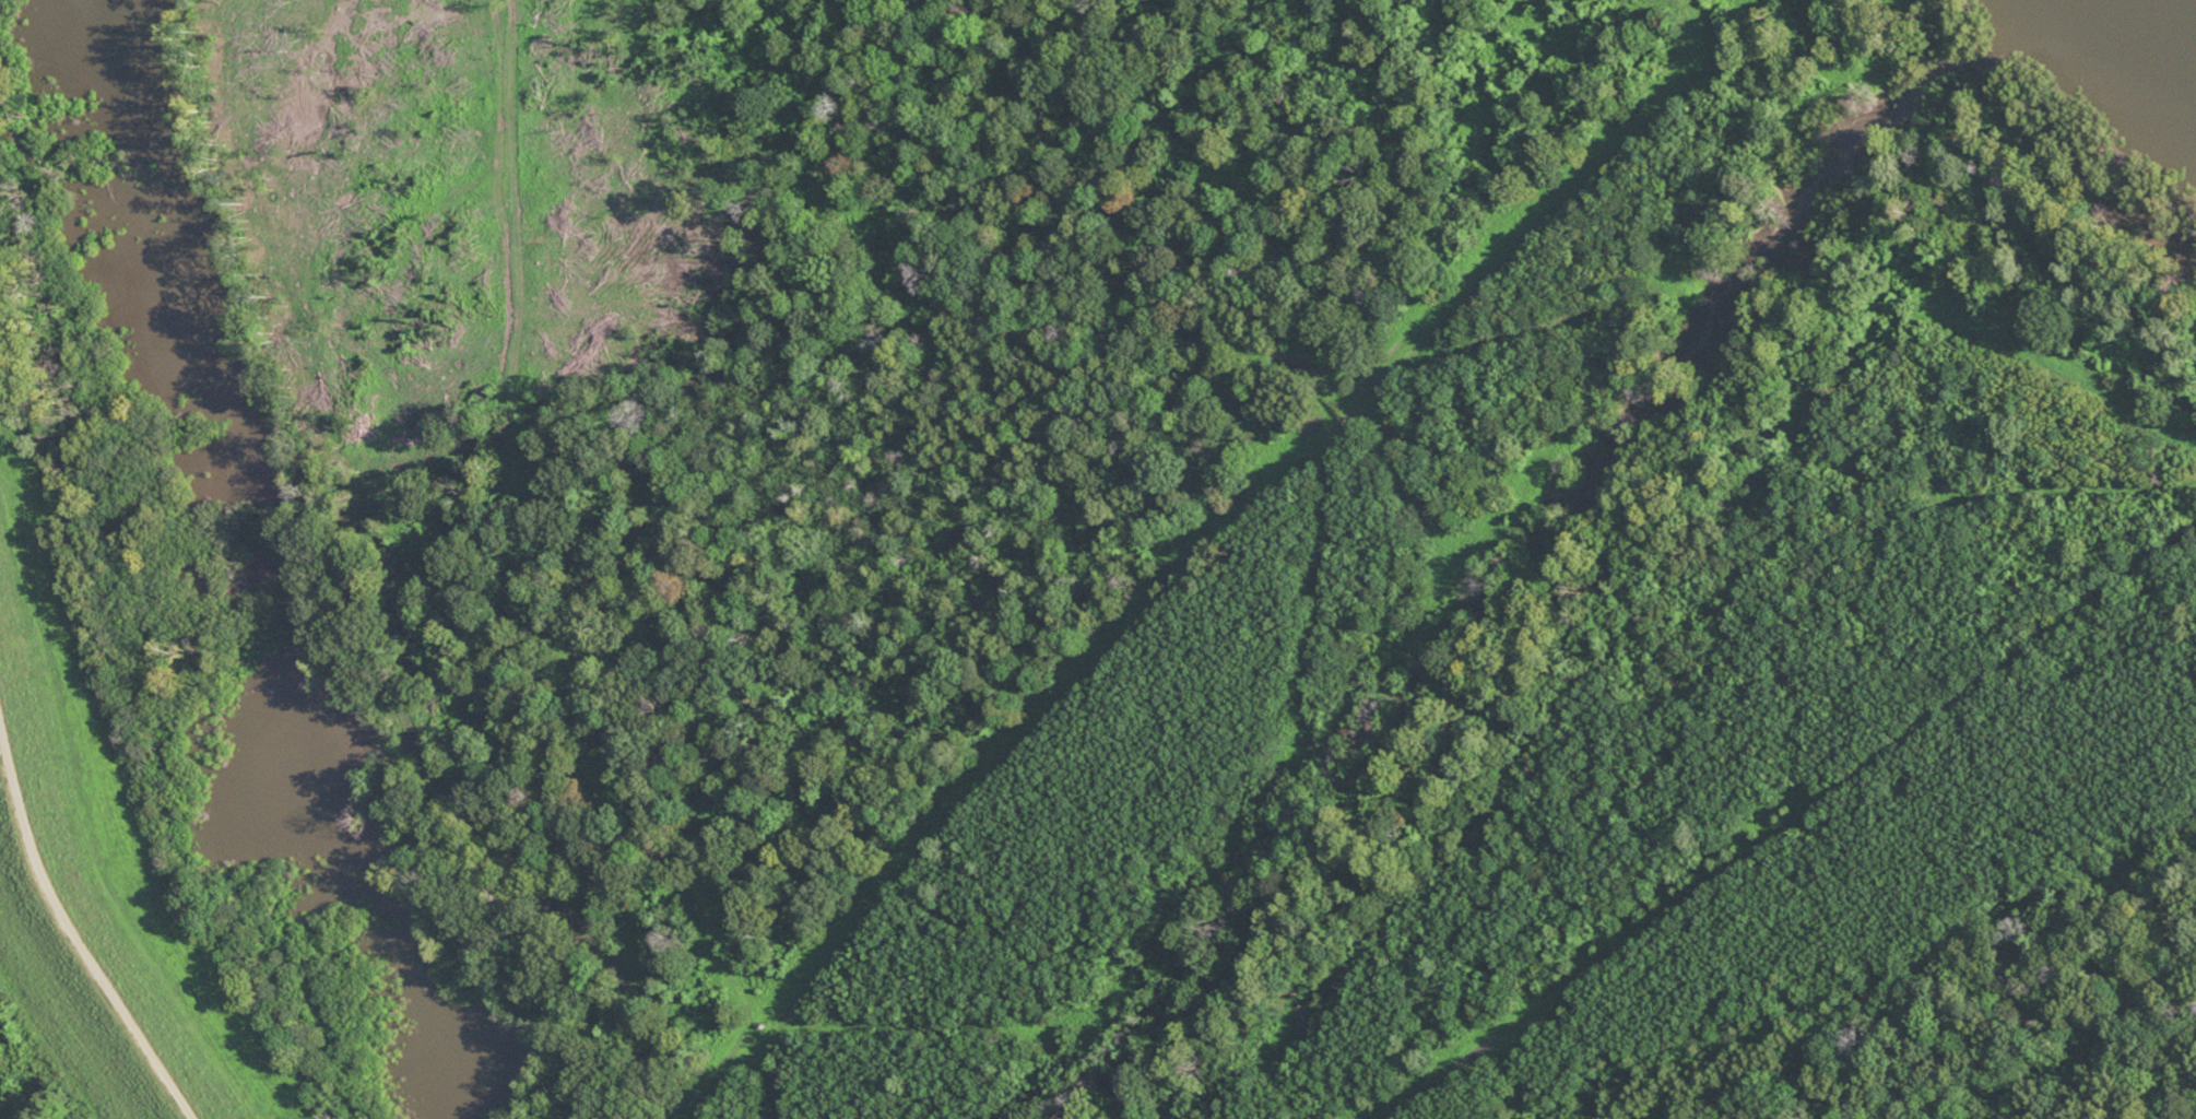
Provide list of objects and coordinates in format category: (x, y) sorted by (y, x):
river: (2162, 35)
road: (1214, 559)
road: (1790, 825)
road: (67, 939)

